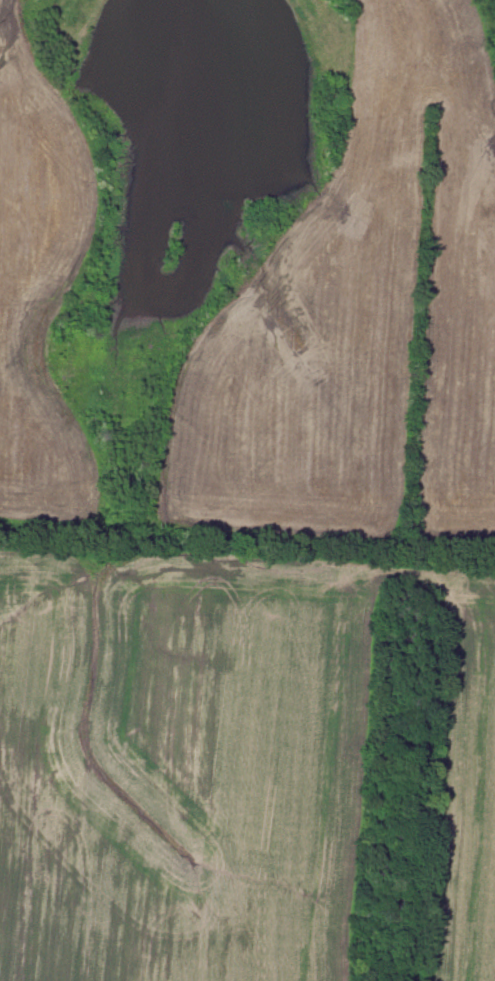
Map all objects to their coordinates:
crop: (183, 768)
crop: (457, 782)

